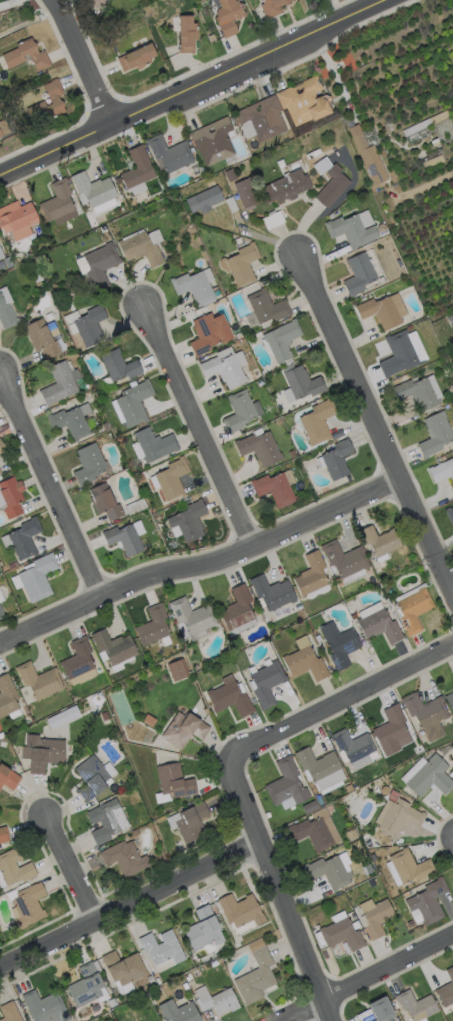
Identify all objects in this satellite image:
building: (95, 3)
building: (273, 7)
building: (229, 17)
building: (187, 34)
building: (212, 38)
building: (15, 55)
building: (136, 58)
road: (84, 61)
road: (333, 75)
road: (192, 87)
building: (54, 99)
building: (304, 102)
building: (262, 119)
building: (232, 120)
building: (426, 123)
building: (4, 129)
building: (304, 140)
building: (213, 142)
building: (192, 150)
building: (170, 154)
building: (368, 157)
building: (434, 162)
building: (281, 164)
building: (138, 168)
building: (230, 176)
building: (330, 182)
building: (286, 188)
building: (94, 189)
building: (245, 192)
building: (205, 200)
building: (57, 202)
building: (231, 205)
building: (273, 220)
building: (17, 221)
building: (104, 228)
building: (351, 231)
building: (238, 241)
building: (140, 249)
building: (1, 254)
building: (8, 262)
building: (399, 264)
building: (1, 265)
building: (101, 265)
building: (241, 265)
building: (359, 274)
building: (37, 277)
building: (194, 288)
building: (215, 291)
building: (267, 308)
building: (380, 312)
building: (6, 315)
building: (450, 320)
building: (91, 326)
building: (209, 333)
building: (54, 334)
building: (246, 335)
building: (240, 337)
building: (42, 339)
building: (282, 340)
building: (399, 354)
building: (120, 366)
building: (226, 368)
building: (261, 383)
building: (303, 383)
building: (59, 385)
building: (450, 389)
building: (418, 394)
building: (134, 403)
building: (294, 407)
building: (239, 412)
building: (318, 422)
building: (70, 423)
road: (376, 423)
building: (106, 426)
road: (199, 427)
building: (435, 435)
building: (155, 445)
building: (2, 449)
building: (260, 449)
building: (166, 459)
building: (442, 459)
building: (337, 460)
building: (89, 465)
building: (150, 466)
building: (442, 471)
building: (0, 473)
building: (172, 479)
building: (348, 479)
road: (52, 483)
building: (274, 490)
building: (11, 497)
building: (105, 503)
building: (136, 507)
building: (450, 515)
building: (189, 521)
building: (25, 539)
building: (124, 539)
building: (380, 541)
building: (345, 560)
building: (13, 565)
road: (202, 568)
building: (312, 575)
building: (38, 578)
building: (272, 593)
building: (299, 607)
building: (238, 609)
building: (369, 609)
building: (414, 611)
building: (1, 612)
building: (193, 616)
building: (354, 616)
building: (153, 626)
building: (379, 626)
building: (317, 635)
building: (340, 645)
building: (114, 648)
building: (78, 659)
building: (305, 664)
building: (178, 670)
building: (39, 681)
building: (267, 684)
building: (7, 697)
road: (343, 698)
building: (97, 699)
building: (230, 699)
building: (450, 701)
building: (206, 711)
building: (427, 715)
building: (104, 717)
building: (57, 720)
building: (28, 721)
building: (184, 730)
building: (391, 730)
building: (354, 748)
building: (42, 753)
building: (321, 768)
building: (8, 778)
building: (430, 778)
building: (92, 779)
building: (174, 782)
building: (286, 784)
building: (356, 788)
building: (348, 789)
building: (385, 791)
building: (321, 803)
building: (355, 806)
building: (310, 808)
building: (267, 815)
building: (399, 819)
building: (106, 822)
building: (192, 824)
building: (313, 834)
building: (4, 835)
building: (352, 835)
building: (125, 858)
road: (72, 867)
building: (410, 867)
building: (15, 868)
building: (328, 872)
building: (371, 883)
road: (282, 890)
road: (129, 899)
building: (429, 902)
building: (28, 906)
building: (240, 911)
building: (376, 918)
building: (202, 929)
building: (342, 935)
building: (237, 943)
building: (272, 946)
building: (162, 948)
building: (123, 968)
building: (188, 977)
building: (256, 978)
road: (372, 978)
building: (150, 980)
building: (158, 982)
building: (85, 986)
building: (447, 990)
building: (217, 1001)
building: (416, 1006)
building: (45, 1007)
building: (381, 1010)
building: (9, 1012)
building: (178, 1012)
building: (26, 1020)

